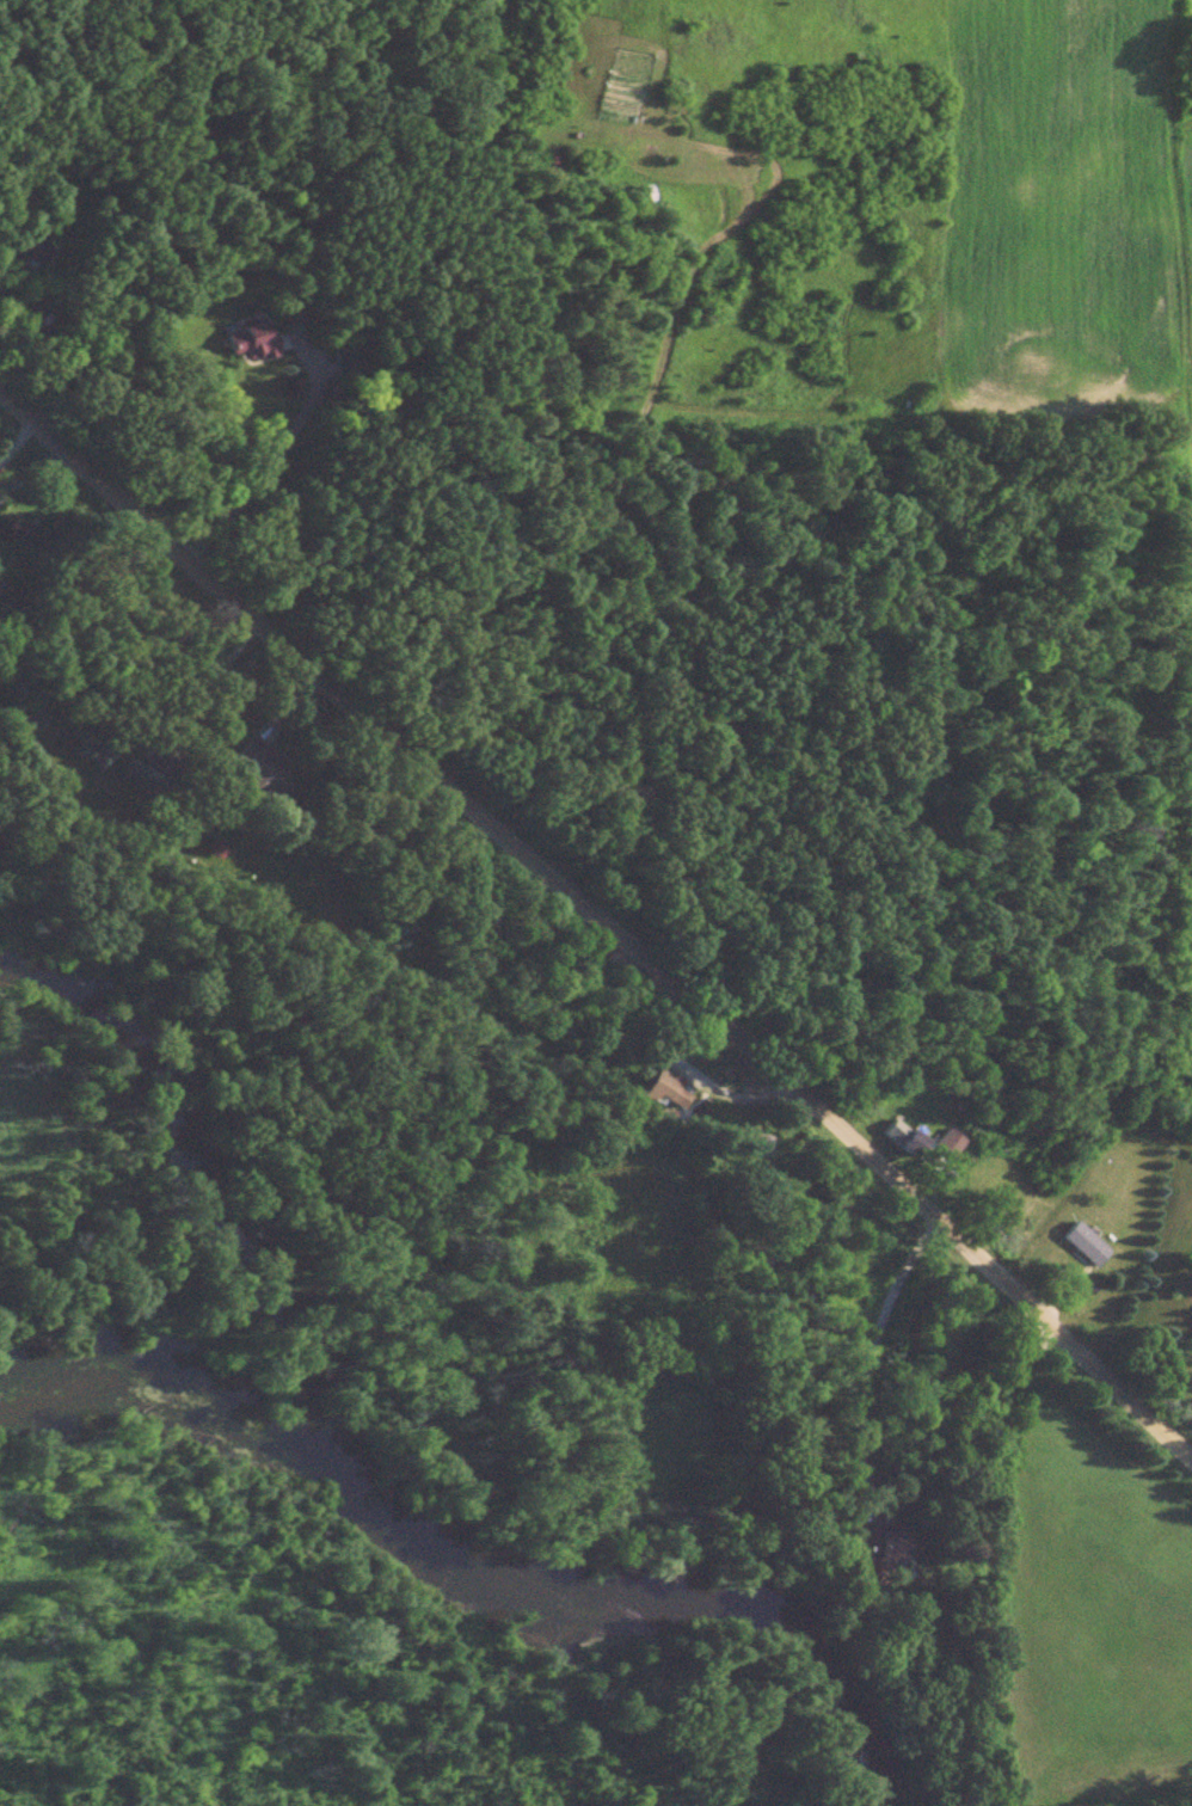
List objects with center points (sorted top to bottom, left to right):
crop: (1058, 211)
building: (36, 247)
building: (250, 346)
crop: (1187, 400)
road: (276, 460)
building: (260, 775)
road: (600, 920)
building: (660, 1095)
building: (896, 1142)
building: (1083, 1249)
road: (878, 1357)
building: (877, 1548)
river: (465, 1577)

